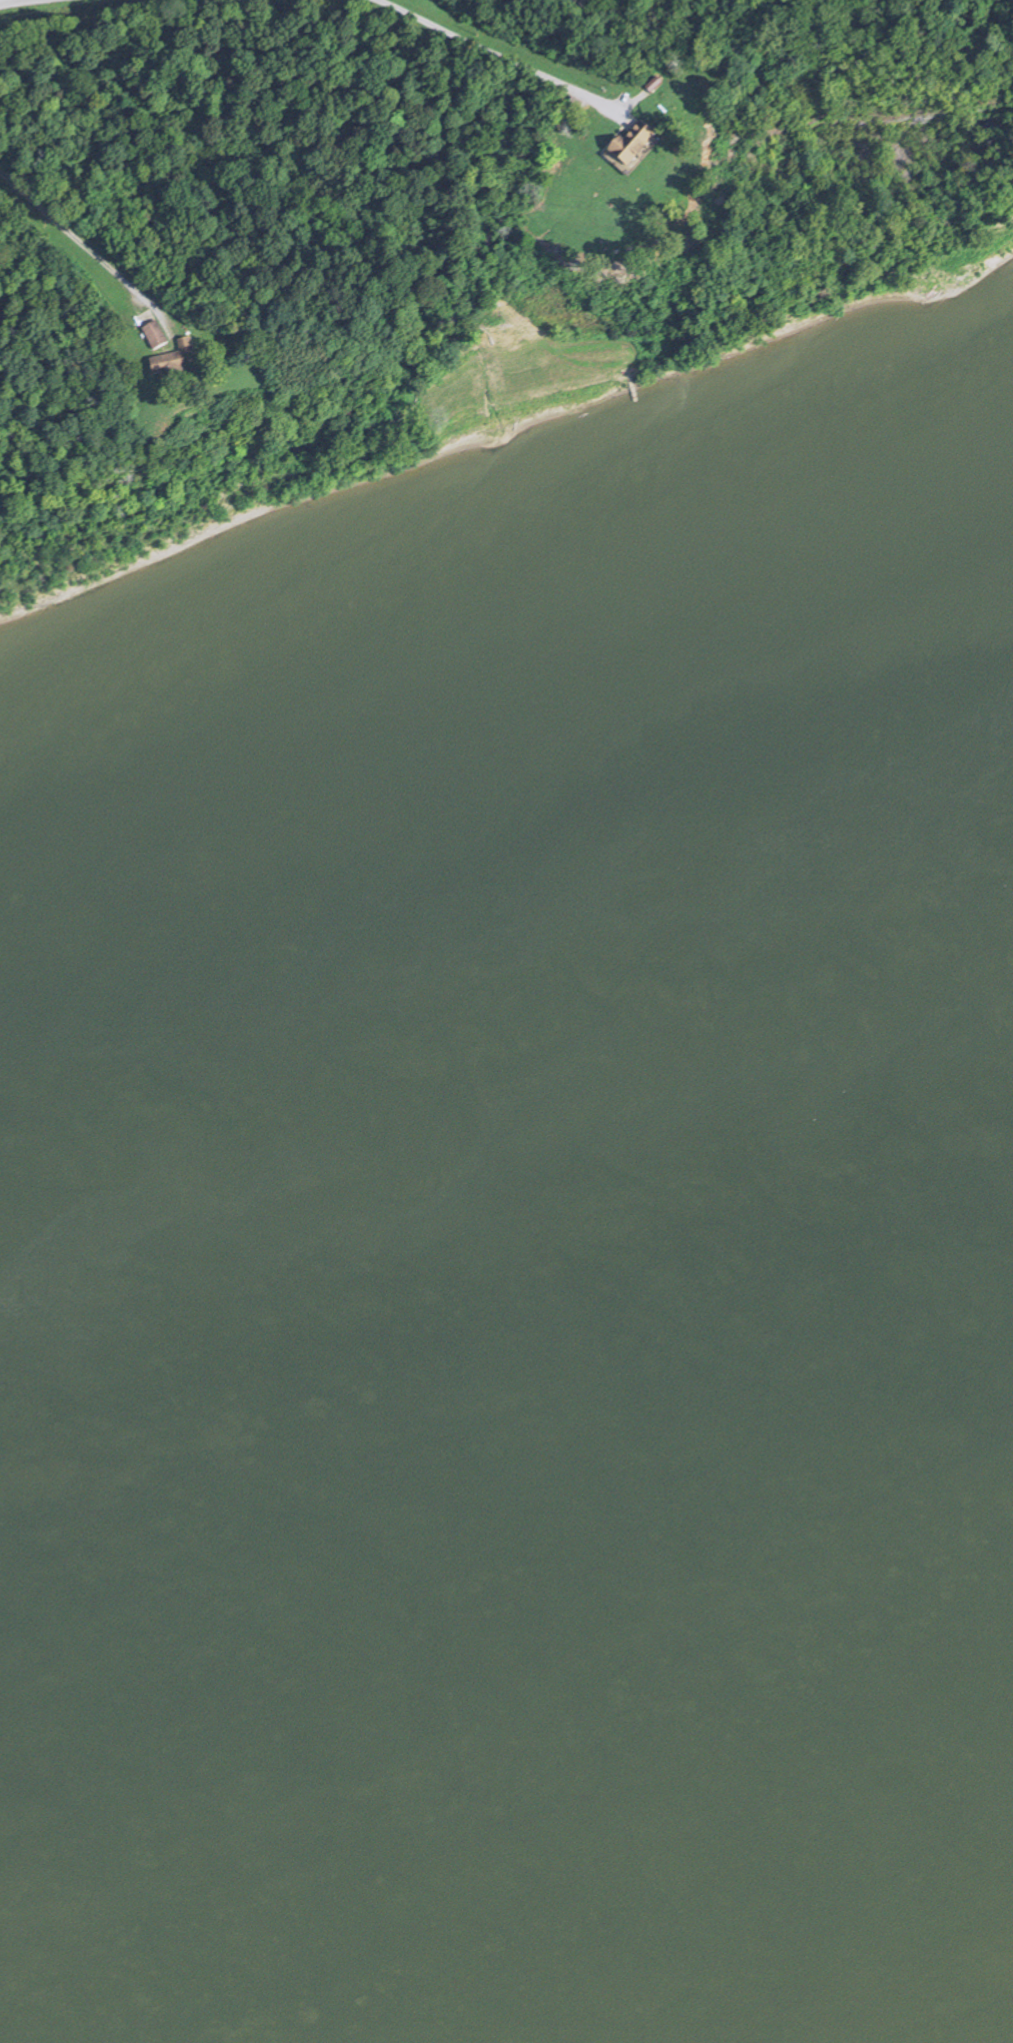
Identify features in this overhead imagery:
road: (21, 3)
road: (473, 46)
road: (600, 110)
building: (620, 146)
road: (982, 250)
road: (90, 254)
building: (160, 337)
building: (183, 366)
building: (835, 382)
river: (506, 1419)

